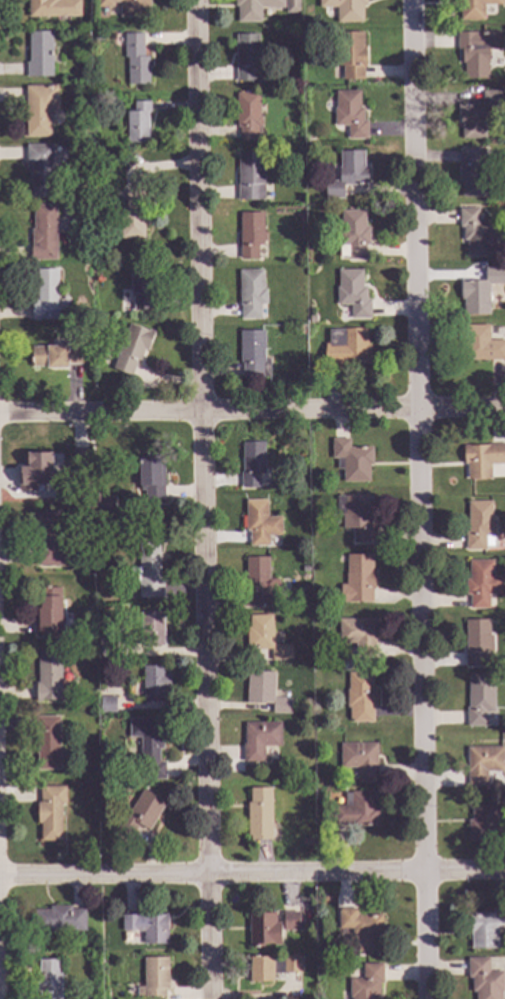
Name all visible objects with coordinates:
building: (292, 6)
building: (129, 7)
building: (53, 8)
building: (254, 8)
building: (475, 8)
building: (346, 9)
building: (98, 38)
building: (476, 51)
building: (350, 54)
building: (39, 55)
building: (248, 58)
building: (135, 59)
building: (278, 81)
building: (276, 92)
building: (39, 110)
building: (350, 113)
building: (477, 114)
building: (247, 115)
building: (138, 122)
building: (39, 169)
building: (347, 173)
building: (472, 174)
building: (250, 175)
building: (130, 214)
building: (43, 232)
building: (250, 233)
building: (477, 233)
building: (353, 234)
building: (141, 286)
building: (479, 290)
building: (251, 292)
building: (353, 292)
building: (44, 296)
building: (481, 344)
building: (347, 346)
building: (132, 347)
building: (253, 354)
building: (54, 356)
road: (252, 408)
building: (79, 459)
building: (482, 459)
building: (352, 460)
building: (252, 463)
building: (40, 471)
building: (150, 477)
road: (203, 499)
road: (418, 499)
building: (95, 507)
building: (357, 516)
building: (260, 522)
building: (478, 526)
building: (46, 537)
building: (147, 572)
building: (358, 579)
building: (480, 583)
building: (258, 584)
building: (47, 612)
building: (151, 629)
building: (359, 634)
building: (265, 637)
building: (476, 643)
building: (323, 644)
building: (106, 648)
building: (49, 675)
building: (152, 683)
building: (265, 690)
building: (100, 692)
building: (360, 696)
building: (478, 700)
building: (106, 704)
building: (147, 738)
building: (260, 739)
building: (47, 743)
building: (360, 758)
building: (482, 763)
building: (356, 809)
building: (50, 813)
building: (259, 813)
building: (140, 814)
building: (485, 824)
building: (306, 842)
road: (252, 875)
building: (59, 920)
building: (147, 927)
building: (269, 928)
building: (485, 928)
building: (361, 929)
building: (272, 968)
building: (153, 978)
building: (48, 979)
building: (483, 979)
building: (365, 983)

